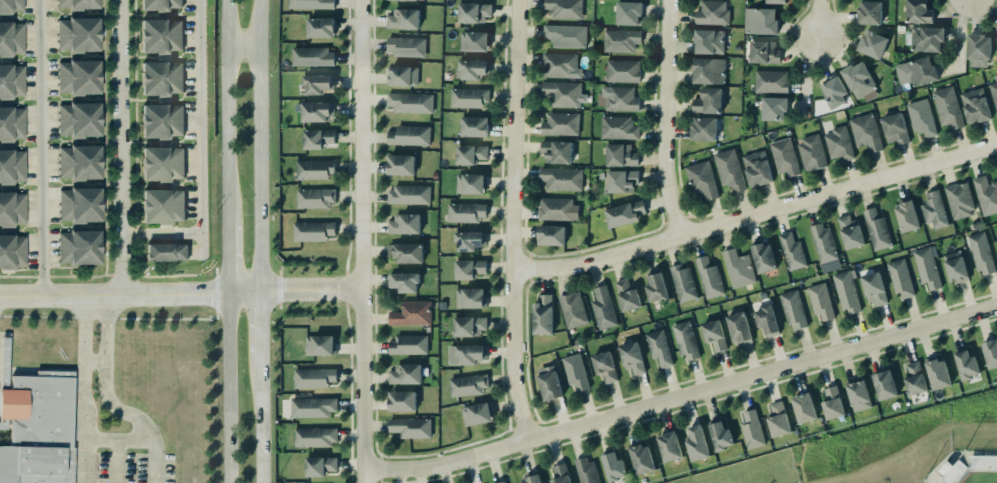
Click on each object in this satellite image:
building: (403, 0)
building: (776, 1)
building: (77, 4)
building: (158, 4)
building: (311, 4)
building: (10, 6)
building: (565, 9)
building: (918, 11)
building: (472, 12)
building: (712, 13)
building: (869, 13)
building: (628, 14)
road: (817, 18)
building: (402, 19)
building: (760, 21)
building: (996, 26)
building: (320, 28)
building: (78, 34)
building: (159, 35)
building: (565, 35)
road: (958, 36)
building: (11, 38)
building: (926, 39)
building: (621, 41)
building: (708, 41)
building: (475, 42)
building: (873, 44)
road: (242, 46)
building: (405, 46)
building: (978, 49)
building: (763, 52)
building: (313, 57)
building: (561, 66)
building: (471, 69)
building: (623, 71)
building: (709, 71)
building: (916, 72)
building: (403, 76)
road: (805, 76)
building: (77, 77)
building: (160, 78)
building: (314, 79)
building: (11, 80)
building: (858, 80)
building: (771, 82)
building: (833, 90)
building: (994, 92)
building: (561, 93)
building: (467, 97)
building: (618, 99)
building: (709, 102)
building: (410, 103)
building: (975, 106)
road: (226, 107)
building: (947, 107)
building: (773, 109)
building: (317, 112)
building: (921, 117)
building: (10, 119)
building: (79, 119)
road: (661, 120)
building: (160, 121)
building: (561, 124)
building: (473, 127)
building: (616, 127)
road: (200, 129)
building: (704, 129)
building: (895, 129)
building: (866, 133)
building: (408, 135)
building: (316, 139)
building: (839, 144)
road: (259, 145)
road: (40, 147)
road: (122, 147)
building: (557, 152)
building: (811, 153)
building: (470, 154)
building: (619, 155)
building: (785, 157)
building: (79, 162)
building: (161, 163)
building: (399, 165)
building: (311, 166)
building: (11, 167)
building: (728, 169)
building: (757, 169)
building: (562, 179)
building: (701, 180)
building: (622, 181)
building: (471, 184)
building: (312, 193)
building: (408, 194)
building: (986, 195)
building: (960, 200)
building: (78, 204)
building: (162, 206)
building: (554, 209)
building: (12, 210)
building: (933, 210)
building: (464, 211)
building: (623, 213)
road: (756, 217)
building: (906, 217)
road: (513, 220)
building: (404, 224)
building: (875, 229)
building: (312, 231)
building: (849, 231)
road: (163, 234)
building: (552, 235)
road: (359, 241)
building: (470, 241)
building: (822, 242)
building: (78, 246)
building: (11, 250)
building: (166, 252)
building: (792, 252)
building: (406, 253)
road: (228, 254)
building: (981, 254)
building: (763, 258)
building: (955, 267)
building: (737, 268)
building: (926, 268)
building: (468, 269)
building: (707, 277)
building: (899, 277)
building: (405, 282)
building: (682, 283)
building: (654, 287)
building: (873, 288)
road: (310, 292)
building: (847, 292)
road: (131, 293)
building: (627, 296)
building: (469, 298)
building: (820, 301)
building: (603, 308)
building: (792, 309)
building: (573, 310)
building: (411, 313)
building: (543, 315)
building: (766, 321)
building: (469, 326)
road: (262, 328)
building: (739, 328)
building: (713, 335)
building: (686, 341)
building: (320, 345)
building: (408, 345)
building: (659, 348)
building: (466, 354)
building: (990, 354)
building: (632, 358)
road: (93, 362)
building: (965, 364)
building: (605, 367)
building: (936, 368)
building: (575, 372)
building: (404, 374)
building: (312, 378)
building: (914, 379)
building: (549, 383)
building: (467, 384)
building: (884, 385)
road: (81, 388)
road: (229, 388)
road: (681, 395)
building: (858, 396)
road: (106, 399)
building: (401, 401)
building: (831, 404)
building: (312, 407)
building: (804, 408)
building: (474, 409)
building: (777, 420)
road: (262, 423)
building: (410, 427)
building: (37, 429)
building: (751, 430)
building: (313, 436)
building: (721, 436)
road: (116, 439)
building: (695, 444)
building: (669, 447)
building: (640, 459)
road: (116, 461)
building: (320, 466)
building: (614, 467)
building: (584, 470)
building: (560, 474)
building: (531, 477)
park: (973, 477)
building: (502, 482)

